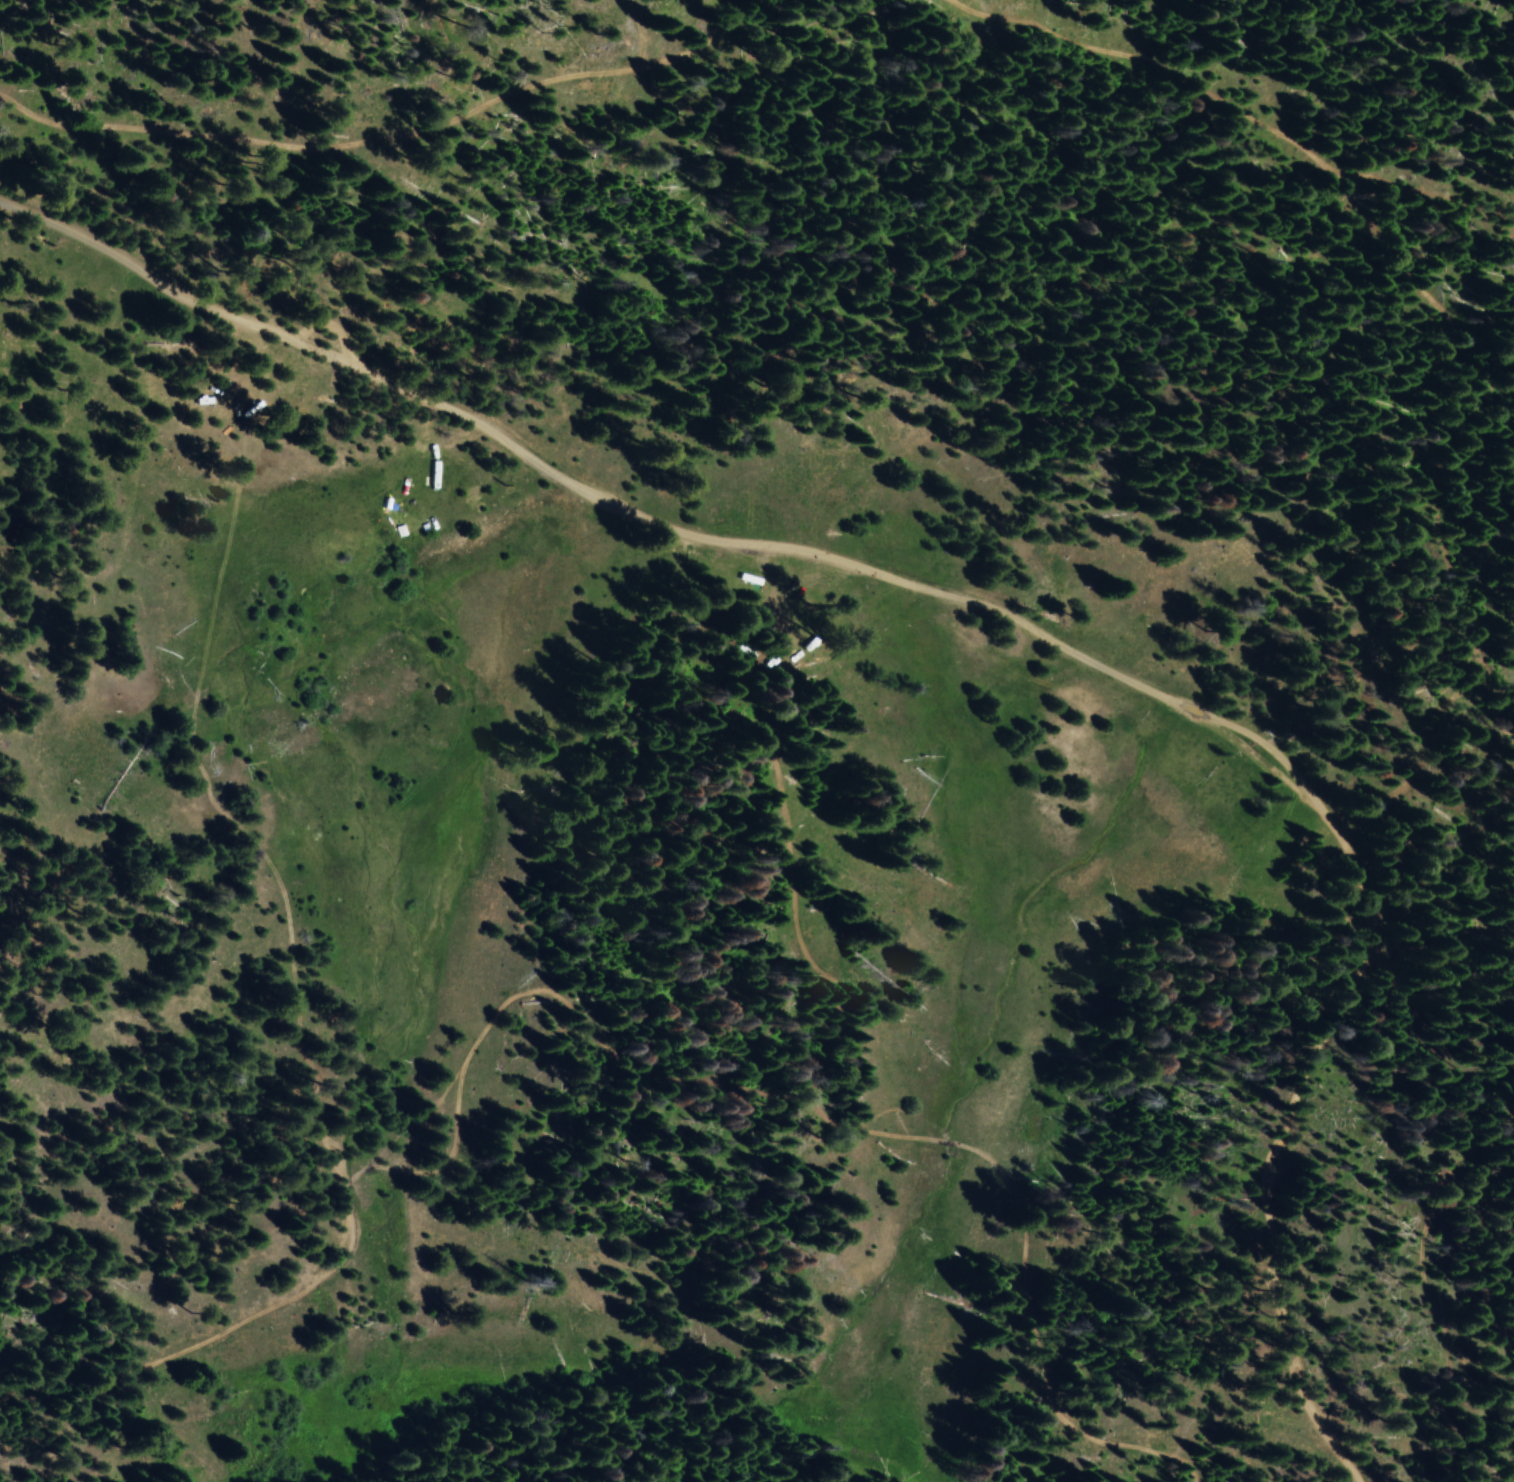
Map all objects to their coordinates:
road: (369, 137)
road: (1382, 217)
road: (1028, 591)
road: (1422, 757)
road: (617, 1052)

